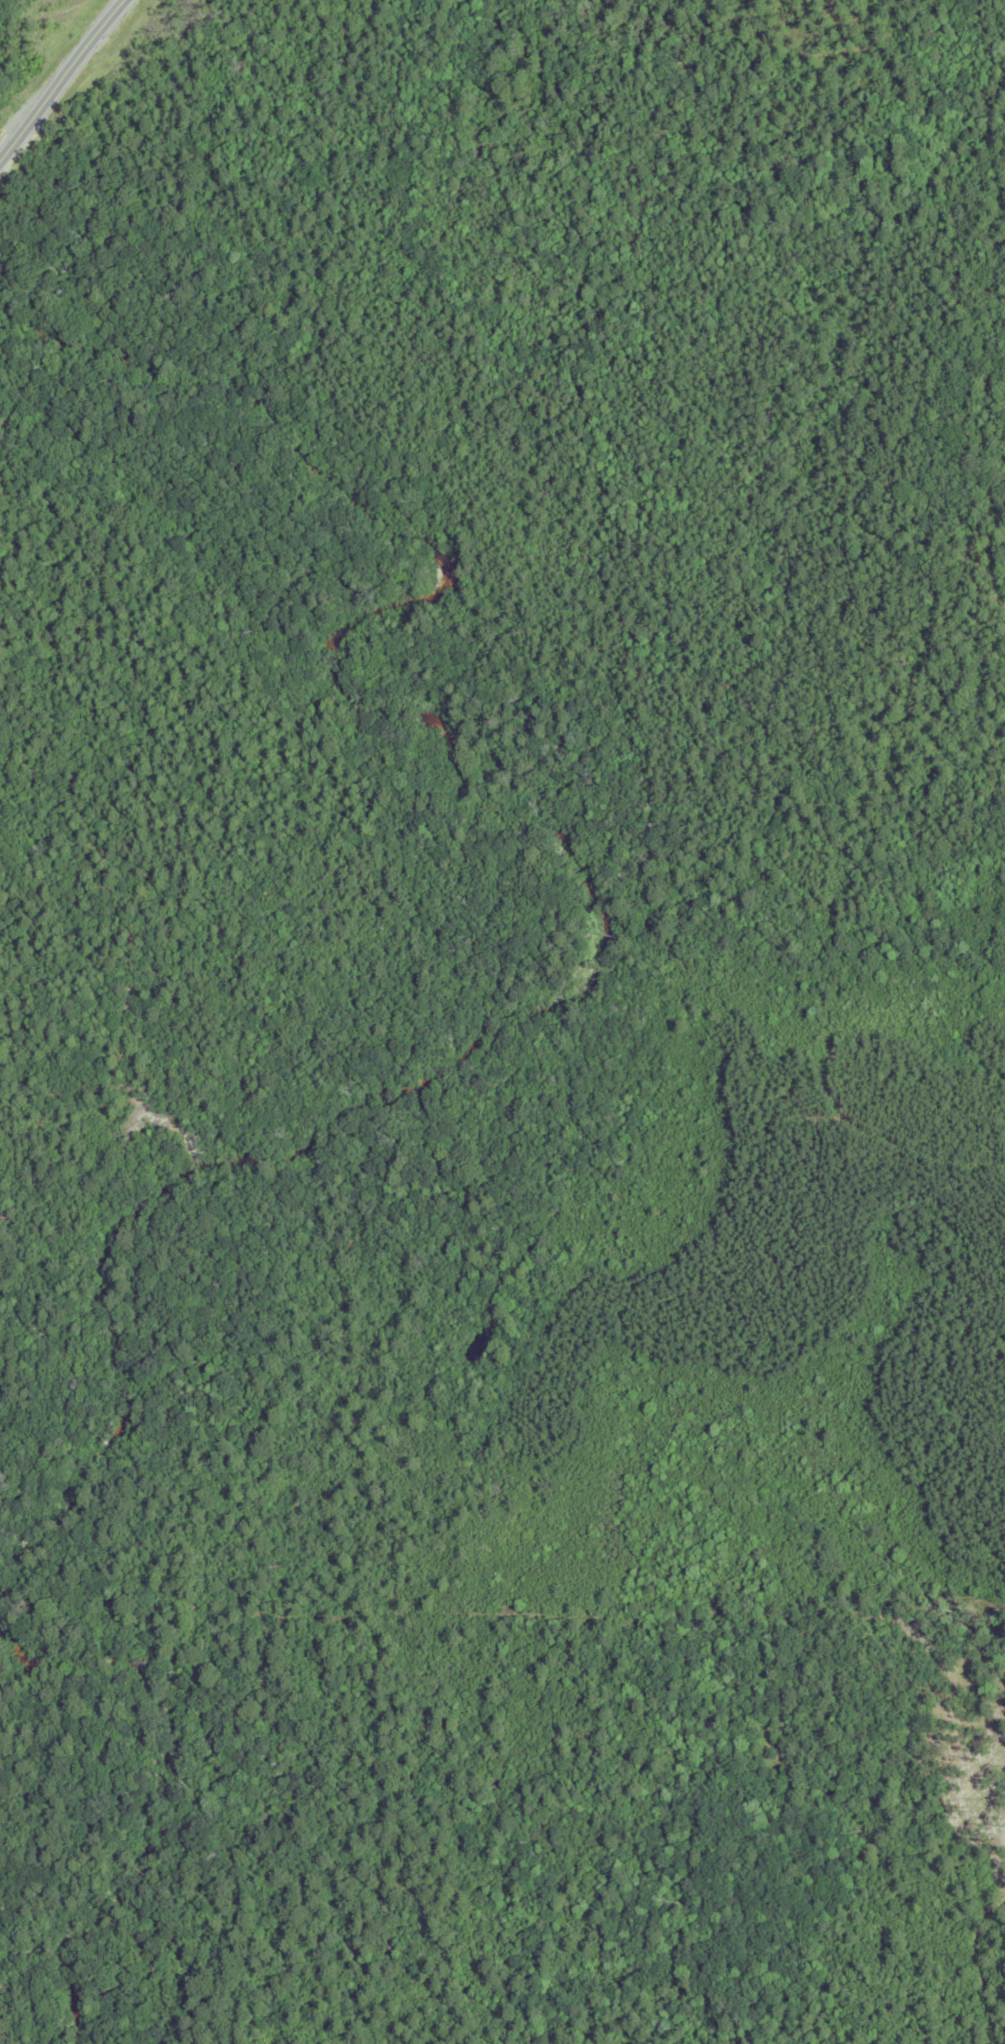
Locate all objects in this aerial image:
road: (60, 84)

